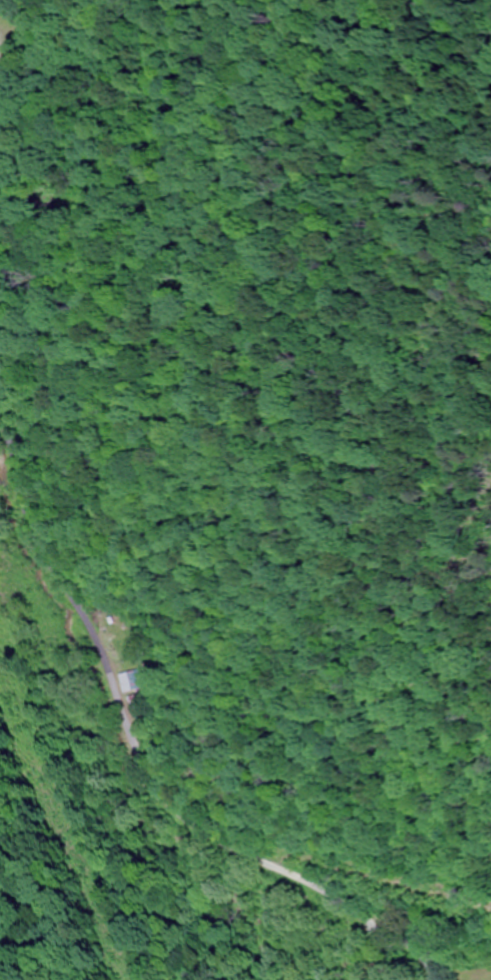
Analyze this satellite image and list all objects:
building: (132, 681)
building: (137, 702)
road: (148, 774)

